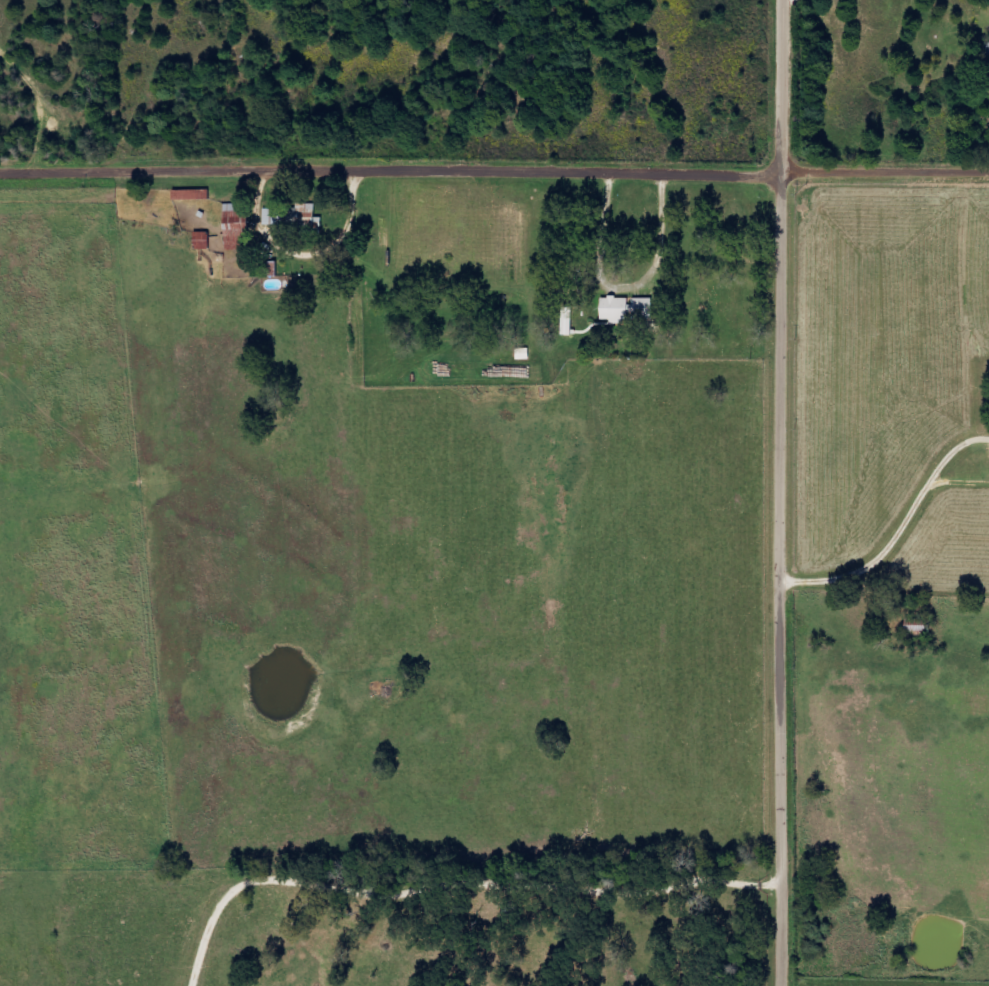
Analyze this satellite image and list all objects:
building: (986, 50)
road: (790, 88)
road: (494, 170)
building: (196, 195)
building: (315, 220)
road: (984, 223)
building: (241, 227)
building: (206, 241)
building: (626, 309)
building: (566, 321)
road: (787, 581)
road: (886, 817)

